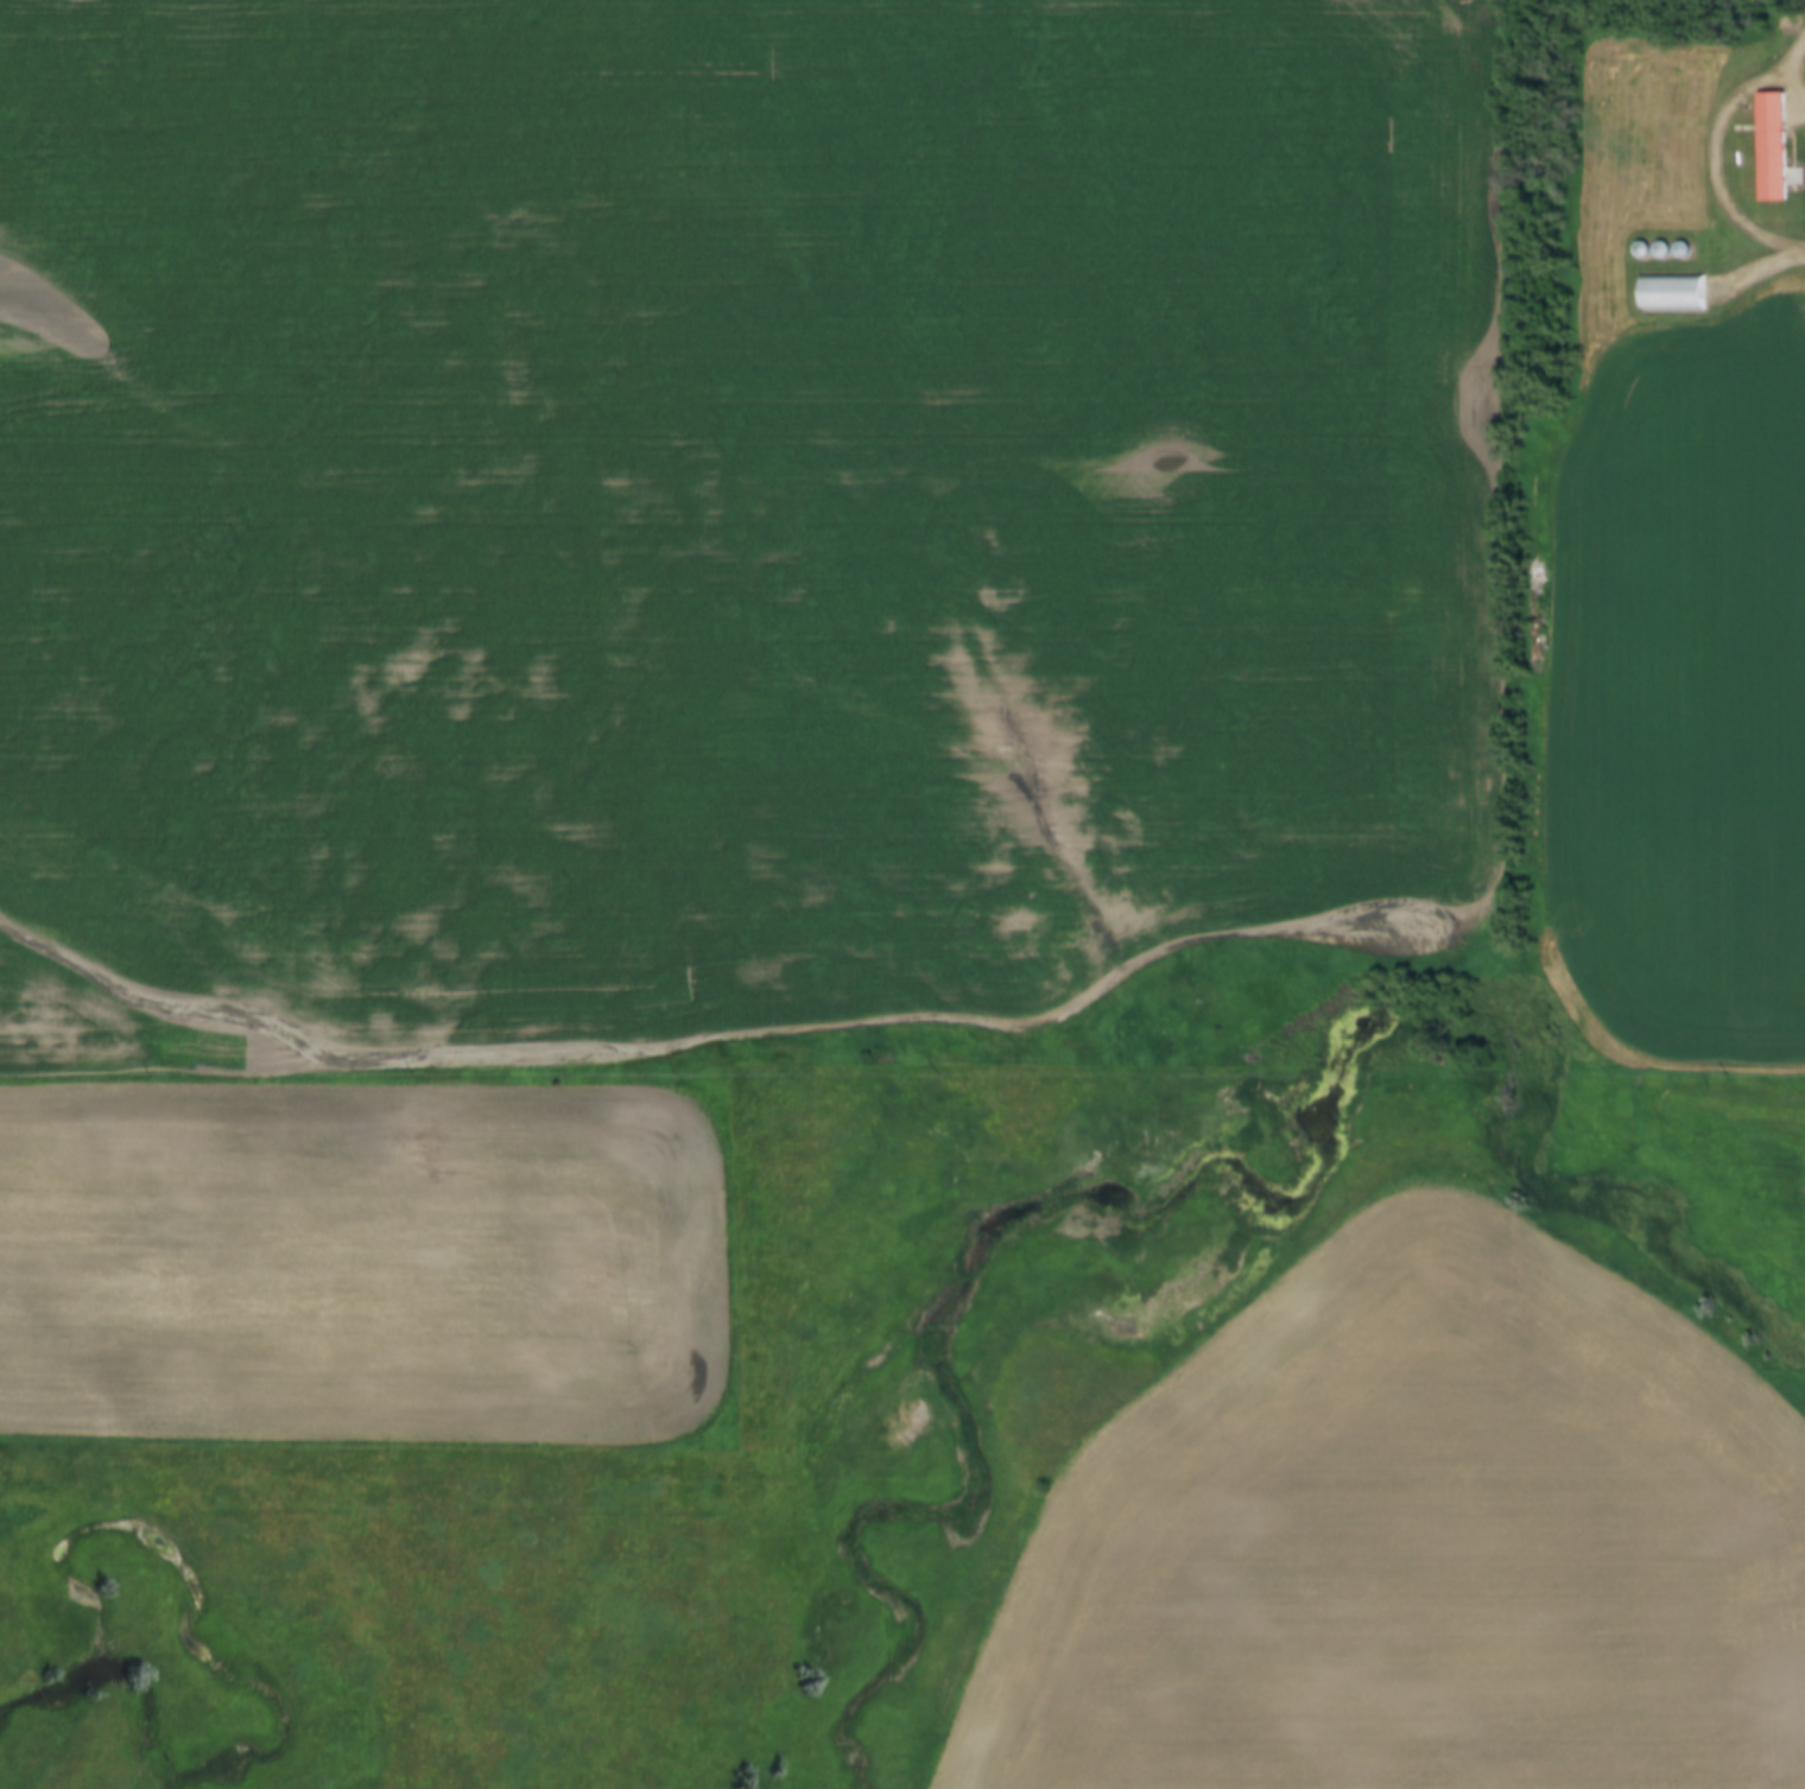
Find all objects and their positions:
building: (1798, 43)
building: (1767, 147)
road: (1717, 148)
building: (1668, 293)

